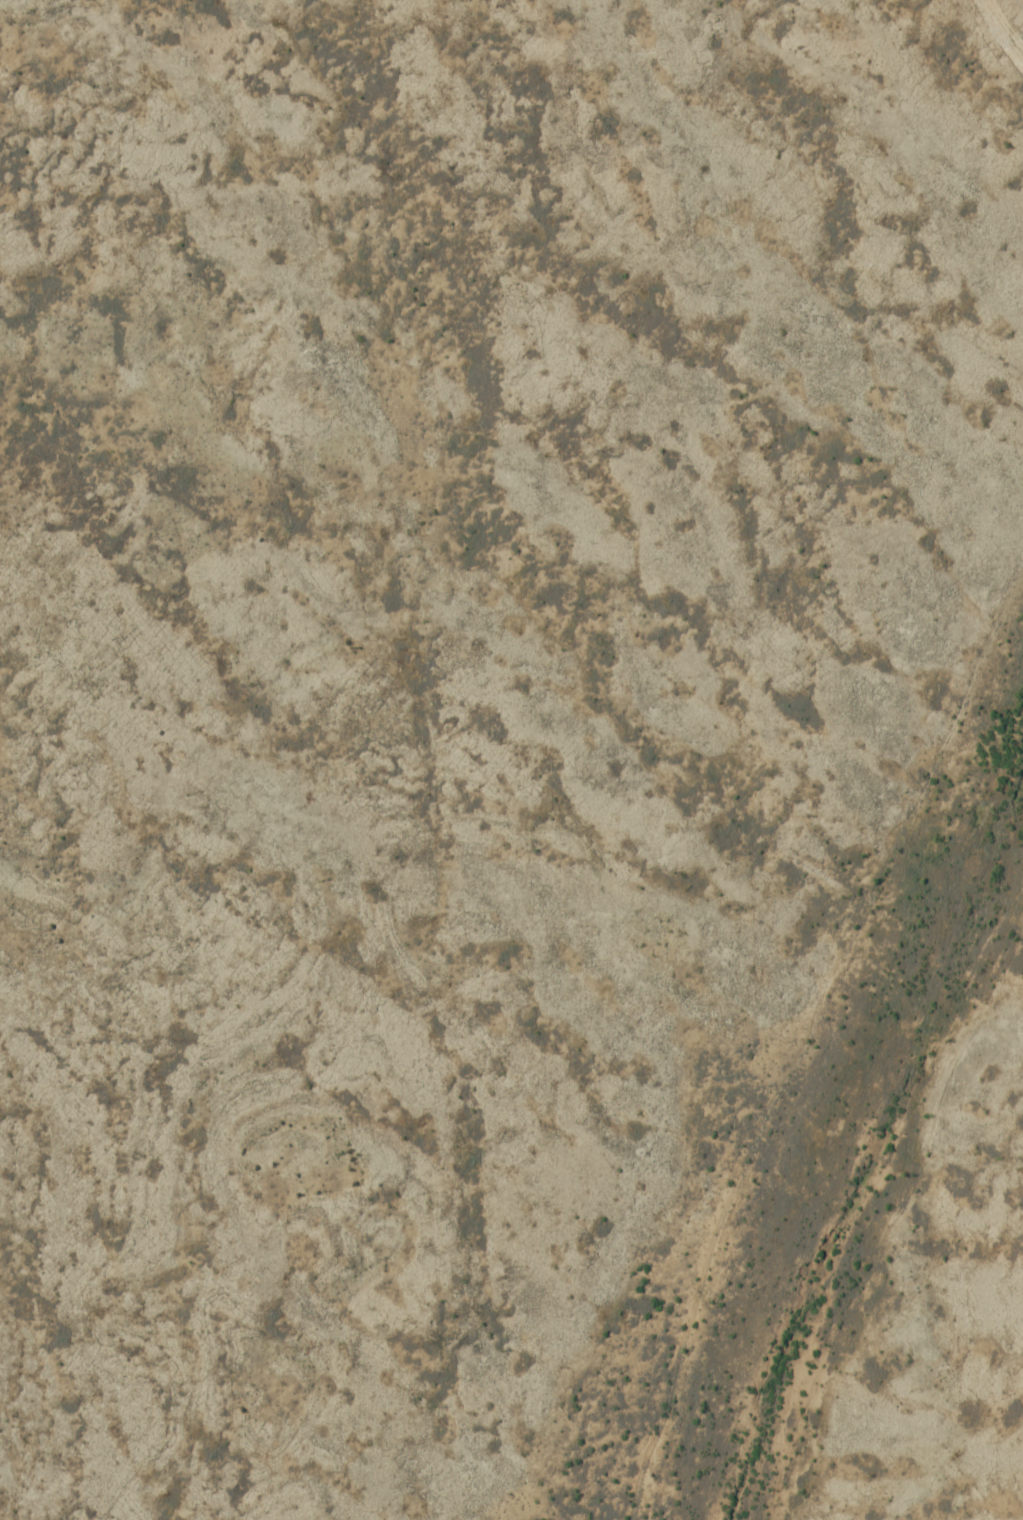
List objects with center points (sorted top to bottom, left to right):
road: (1001, 28)

